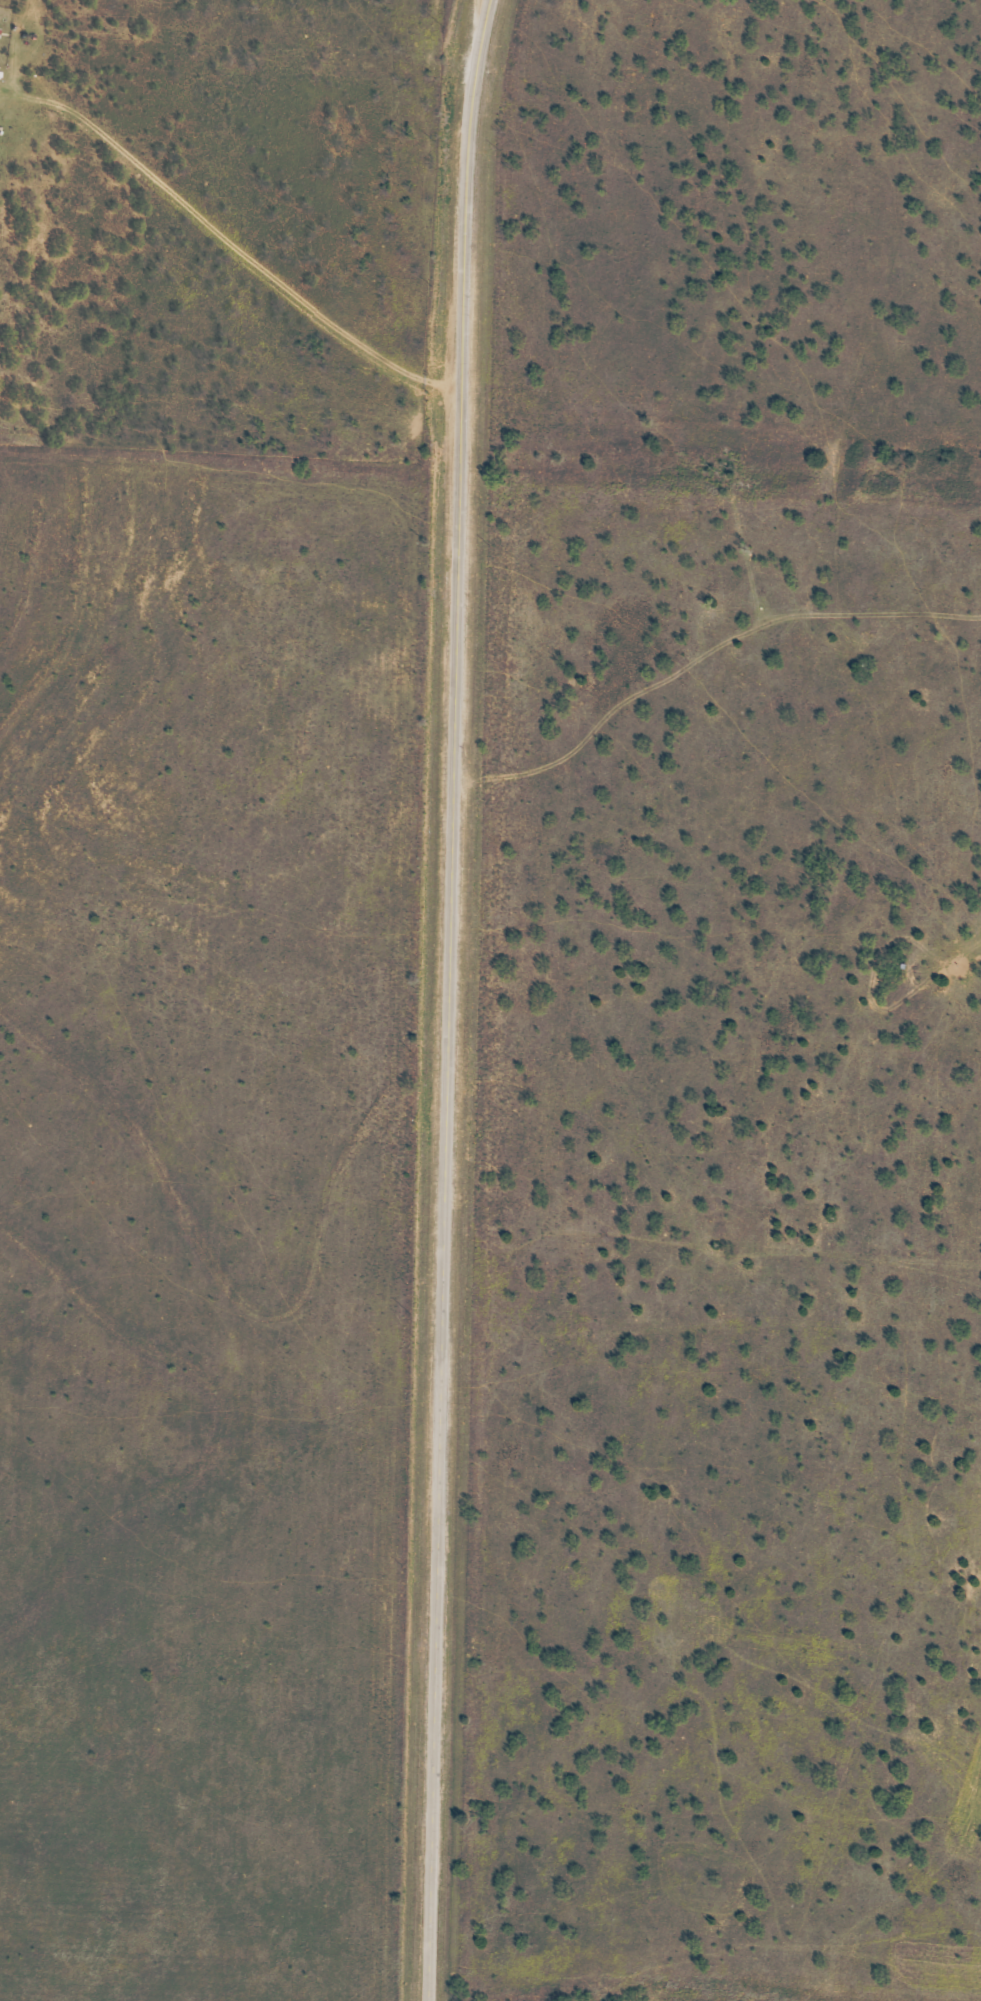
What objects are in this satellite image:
road: (226, 222)
road: (449, 999)

